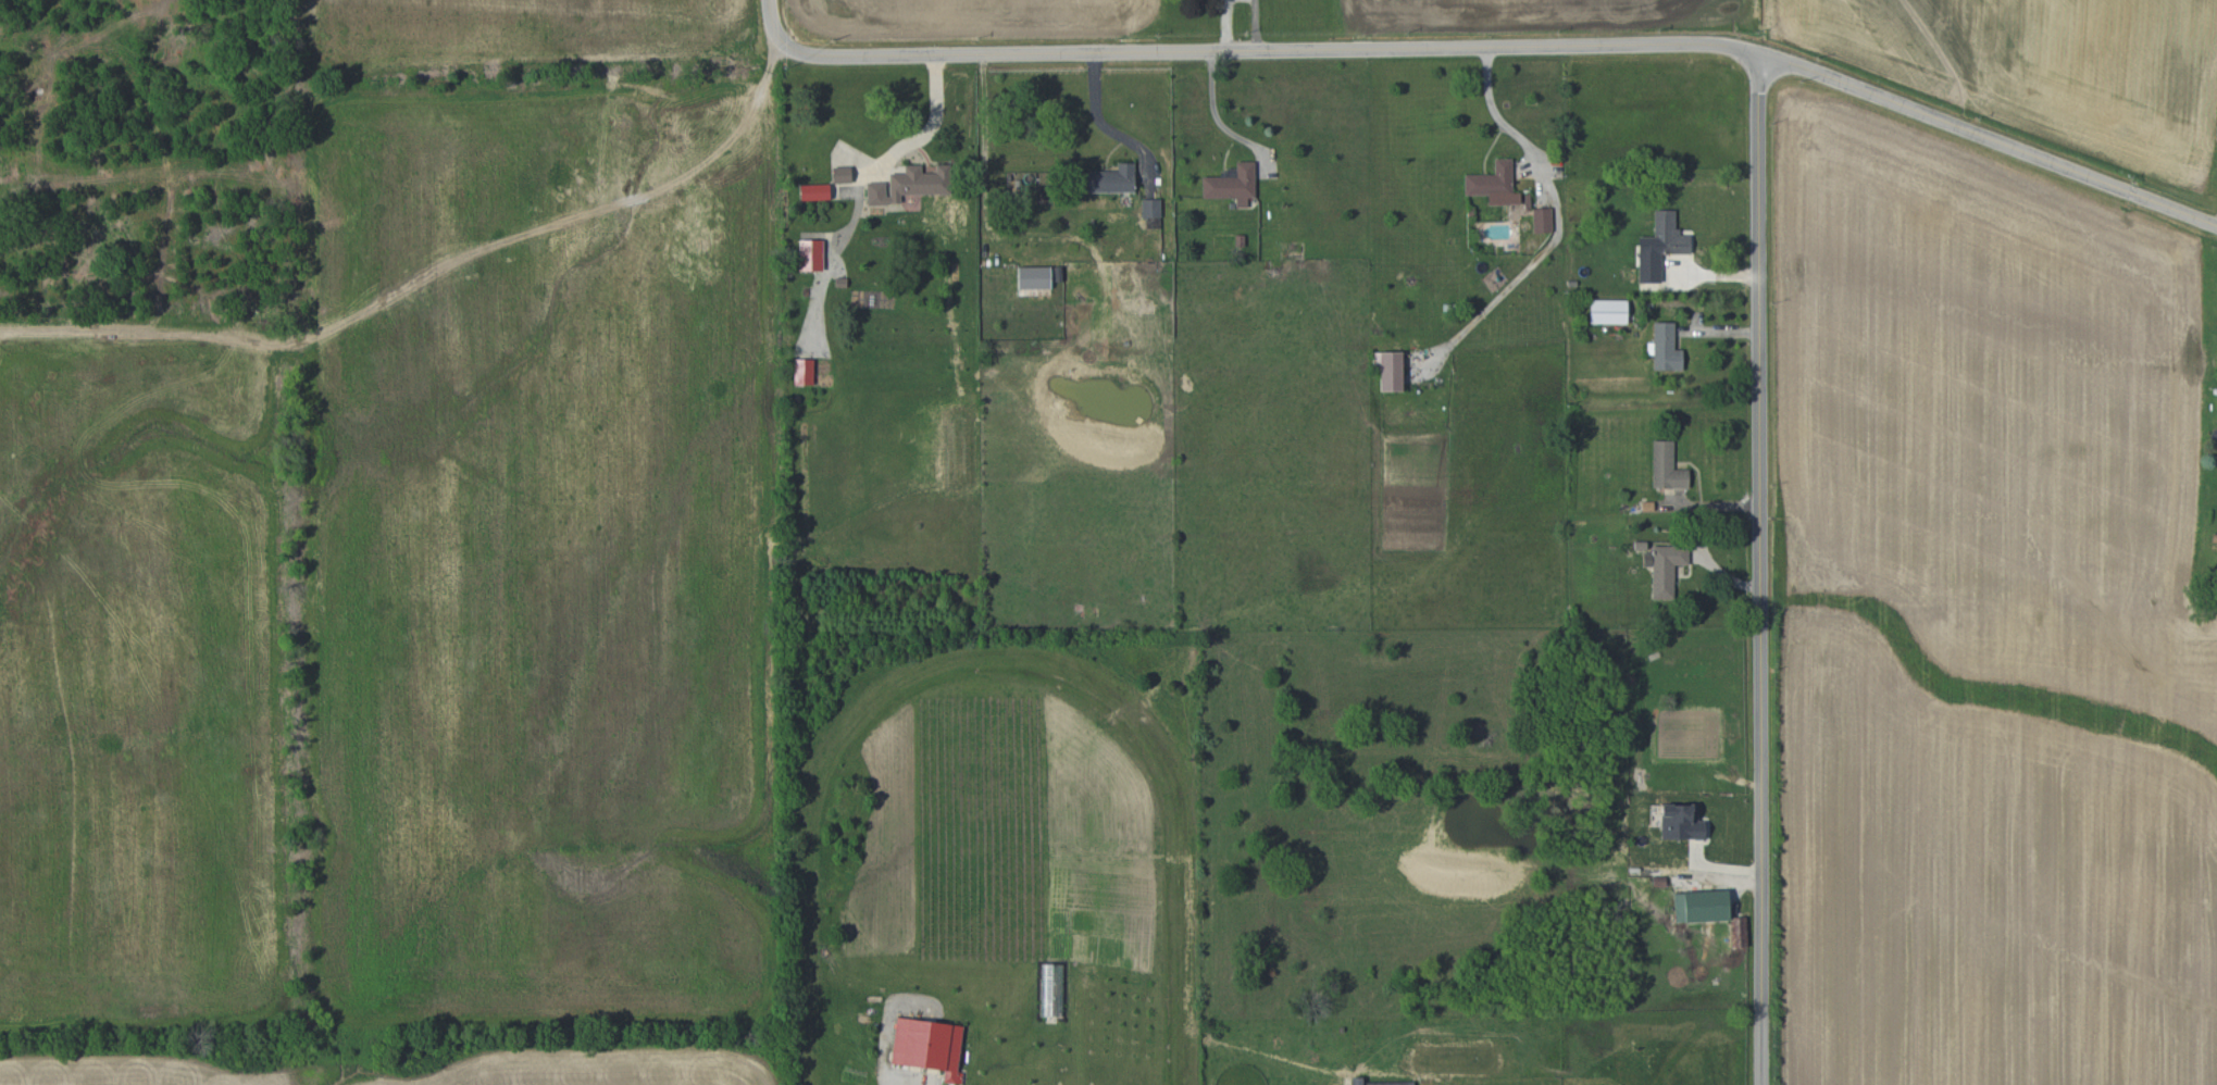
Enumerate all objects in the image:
road: (1225, 24)
road: (1255, 24)
road: (1494, 46)
road: (85, 58)
road: (935, 110)
road: (1494, 110)
road: (1216, 113)
road: (1101, 114)
road: (30, 126)
building: (842, 174)
building: (1112, 179)
road: (668, 180)
road: (272, 182)
building: (910, 184)
building: (1232, 184)
building: (1494, 184)
building: (814, 191)
building: (1150, 208)
building: (1542, 220)
building: (1664, 253)
building: (810, 254)
building: (1034, 277)
building: (1608, 311)
road: (161, 342)
parking lot: (68, 346)
building: (1665, 348)
building: (802, 371)
building: (1391, 371)
building: (1666, 466)
parking lot: (635, 476)
park: (386, 519)
road: (598, 536)
building: (1666, 569)
road: (1758, 570)
building: (1681, 822)
building: (1706, 906)
building: (1739, 932)
building: (1051, 989)
building: (927, 1046)
building: (1380, 1082)

